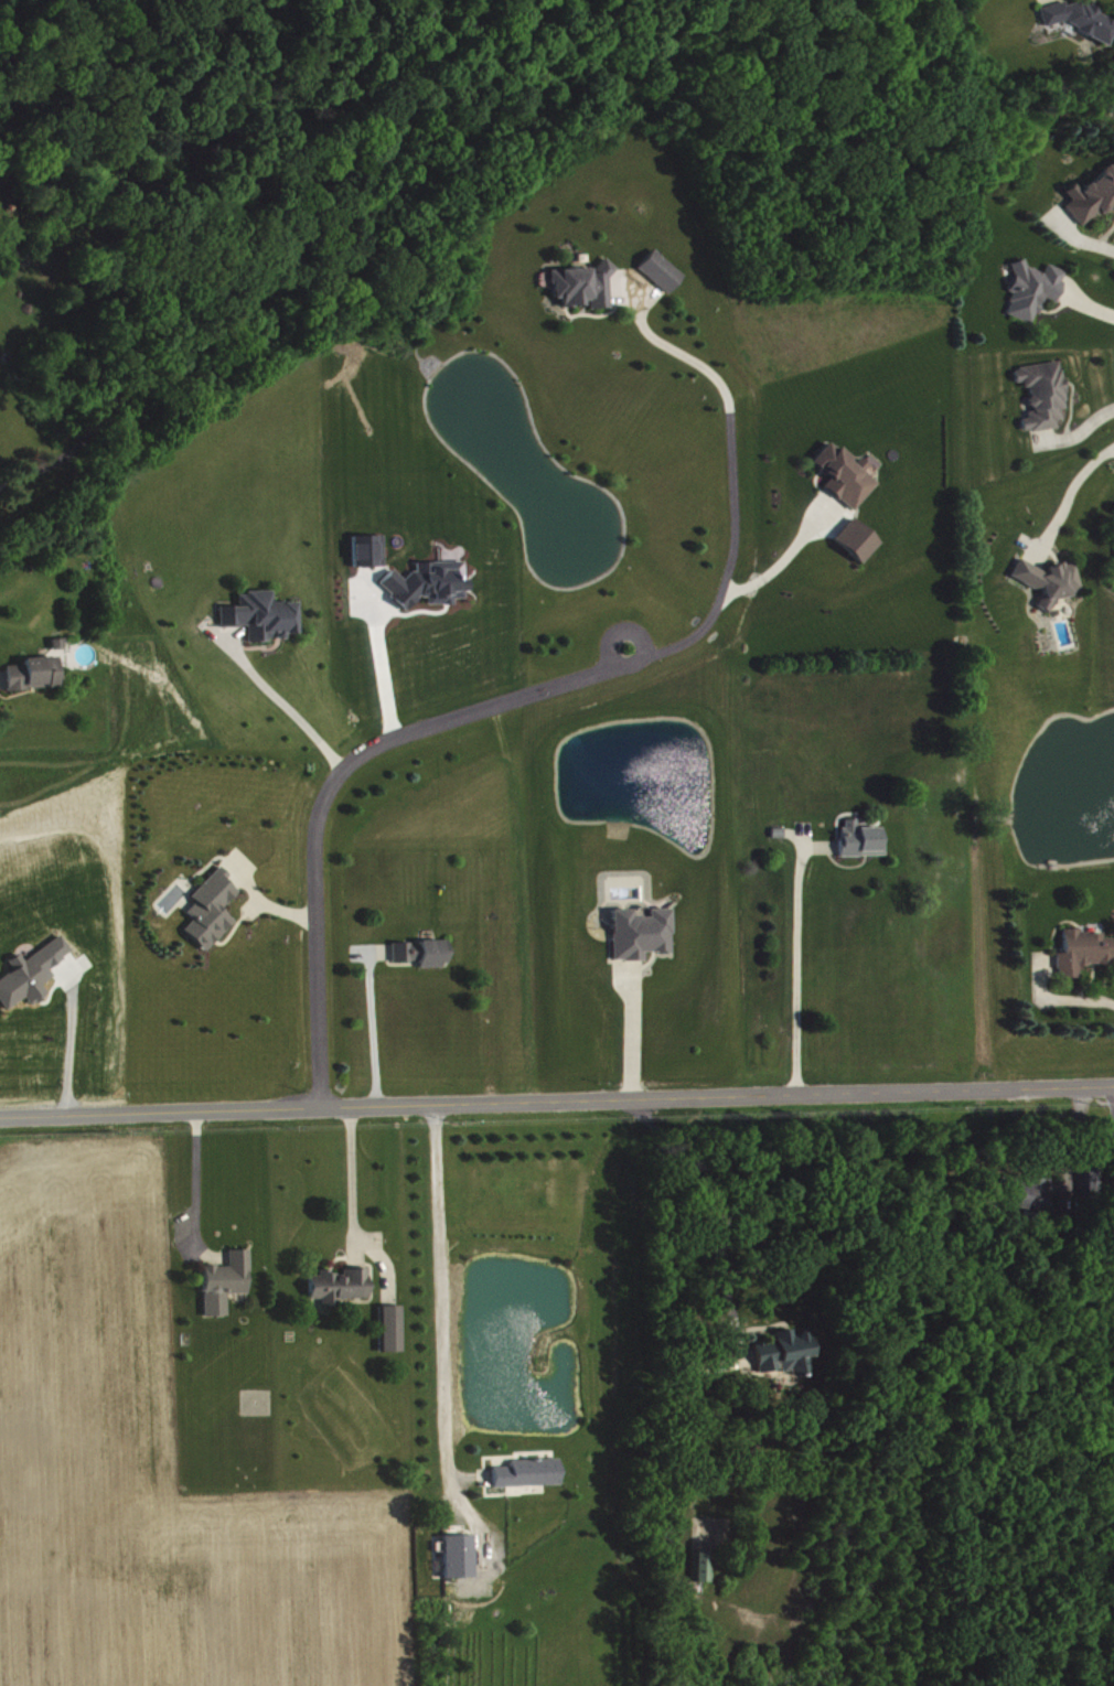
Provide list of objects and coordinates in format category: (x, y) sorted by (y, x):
building: (1076, 17)
building: (1093, 197)
building: (663, 270)
road: (269, 272)
building: (587, 284)
building: (1036, 288)
road: (670, 346)
building: (1045, 394)
building: (847, 473)
road: (1067, 493)
building: (859, 539)
building: (371, 549)
road: (782, 558)
building: (1050, 579)
building: (429, 582)
building: (263, 614)
road: (377, 661)
building: (35, 672)
road: (285, 702)
road: (470, 711)
building: (864, 839)
building: (213, 909)
building: (642, 932)
building: (425, 951)
building: (1085, 951)
road: (803, 958)
building: (33, 973)
road: (377, 1024)
road: (635, 1034)
road: (71, 1038)
road: (557, 1100)
road: (1113, 1105)
road: (192, 1171)
building: (1090, 1177)
building: (1029, 1192)
road: (356, 1204)
building: (227, 1281)
building: (342, 1285)
road: (726, 1302)
building: (393, 1328)
road: (448, 1338)
building: (786, 1352)
crop: (154, 1467)
building: (531, 1472)
building: (461, 1555)
building: (705, 1565)

